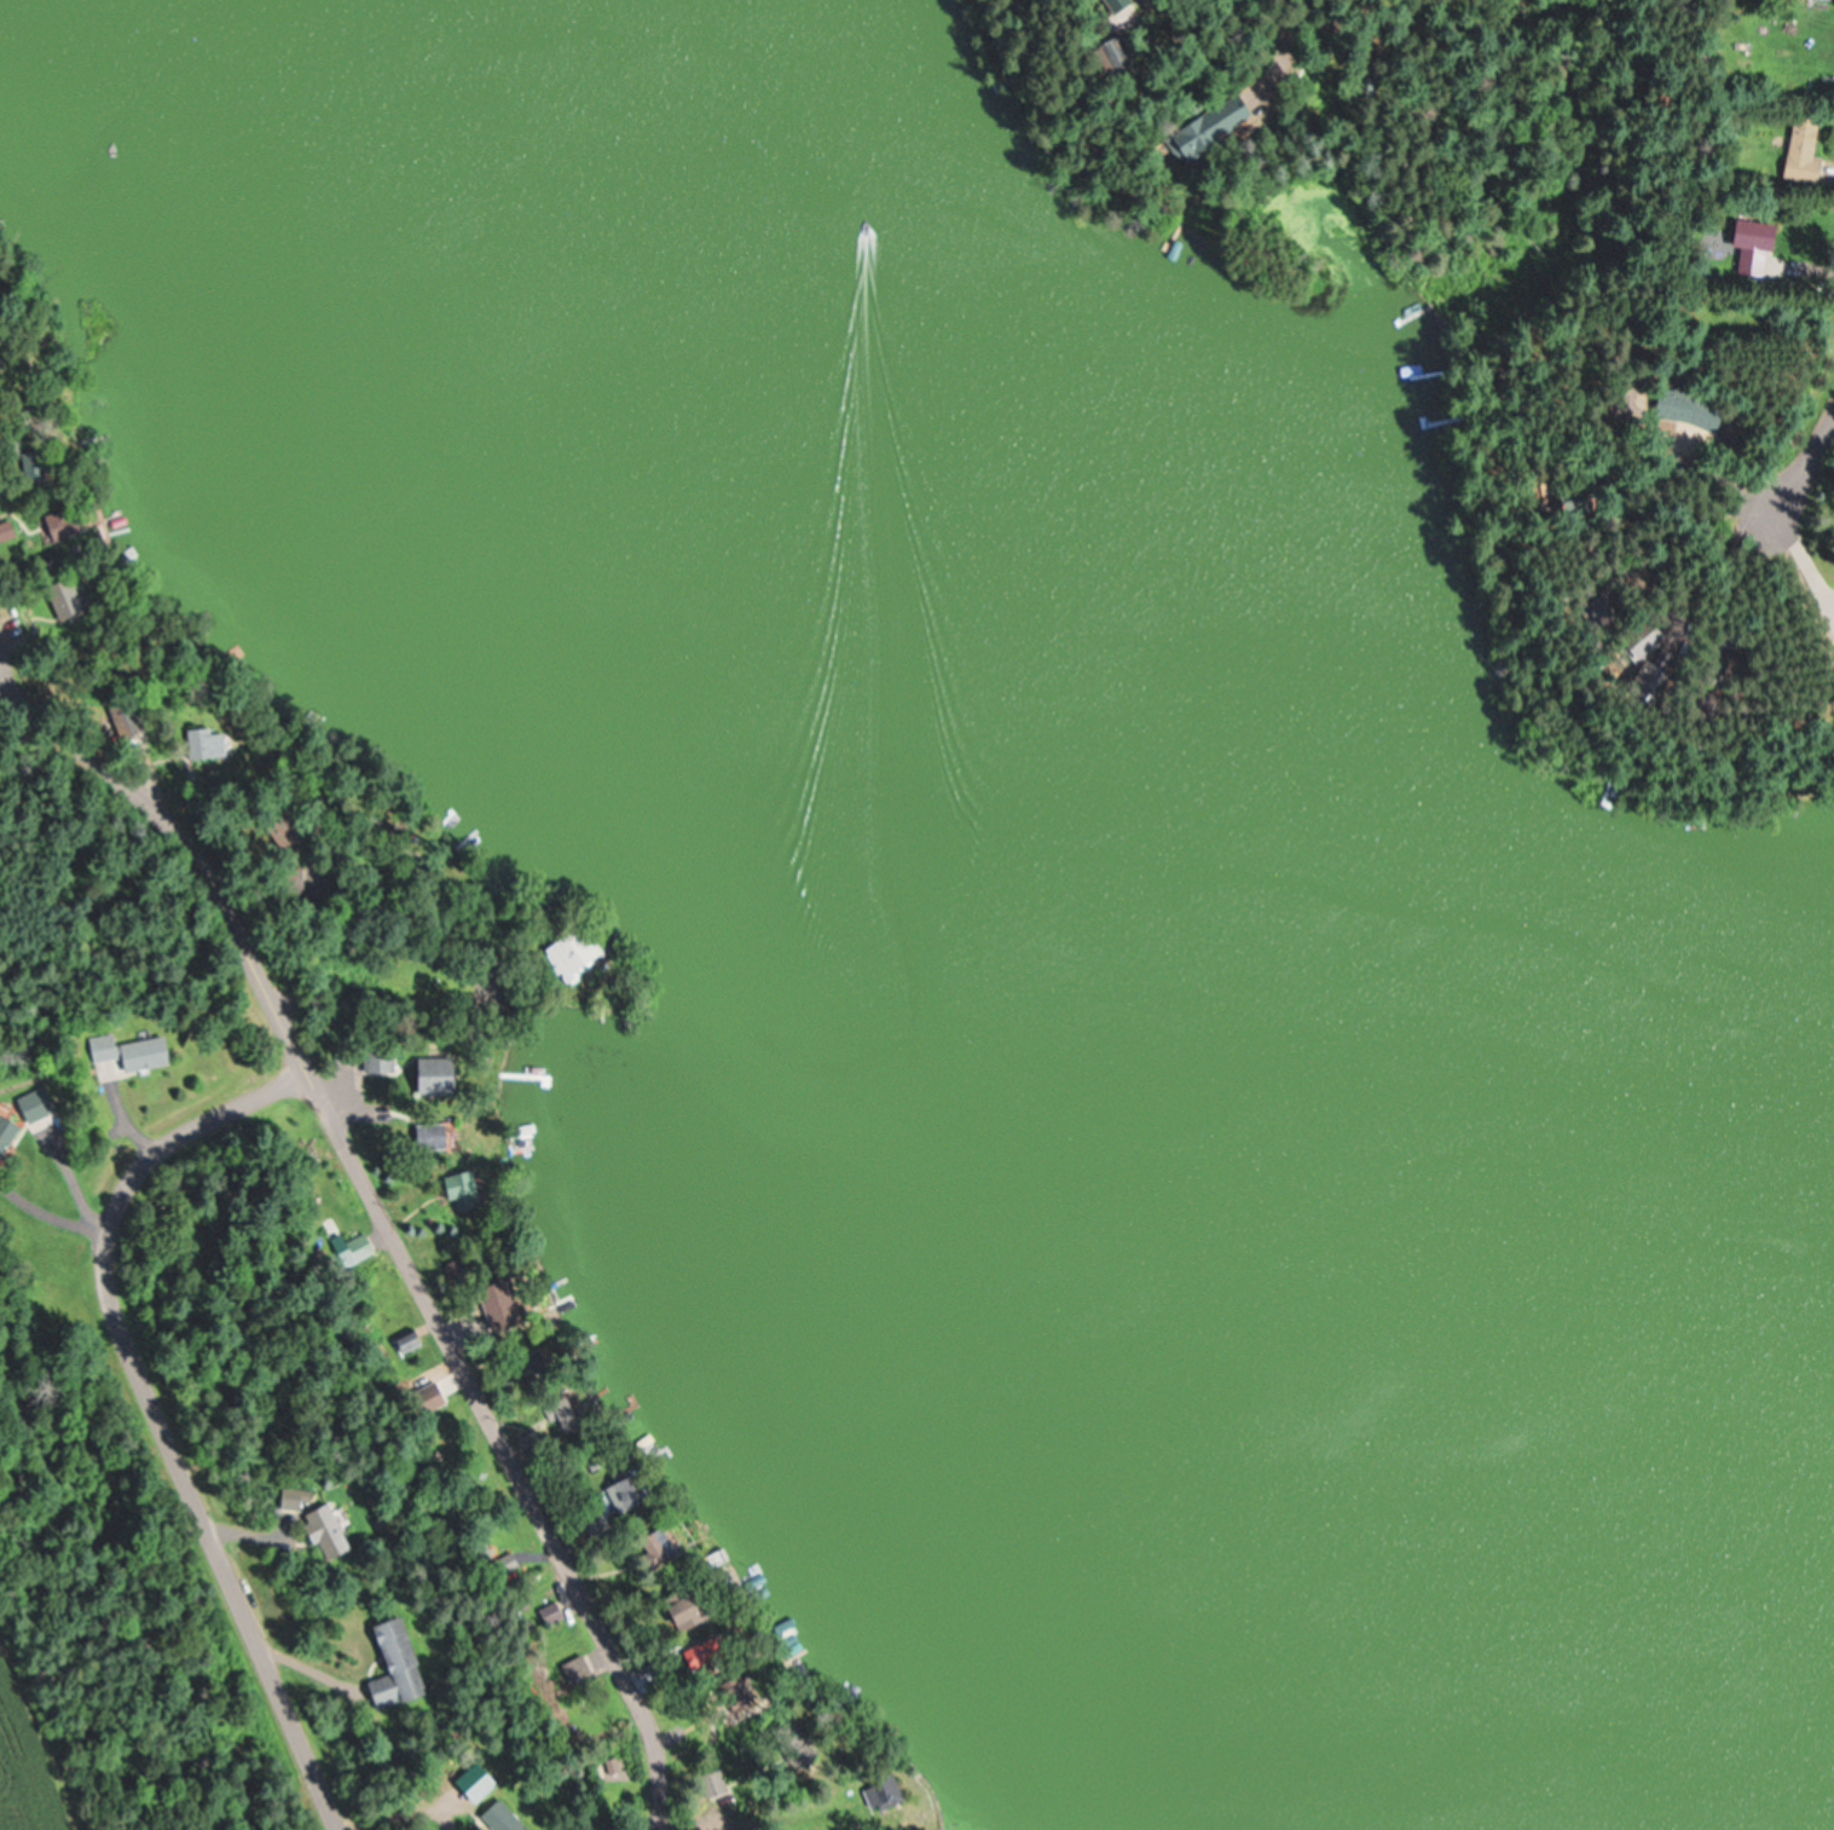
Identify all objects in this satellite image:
building: (1830, 0)
building: (1196, 128)
building: (1799, 148)
road: (2, 232)
building: (1746, 246)
building: (1678, 405)
road: (1810, 460)
road: (1, 666)
road: (1, 671)
building: (282, 879)
building: (151, 1051)
building: (40, 1104)
building: (456, 1190)
road: (376, 1207)
building: (357, 1247)
building: (403, 1340)
road: (152, 1413)
building: (623, 1493)
building: (284, 1497)
building: (322, 1530)
building: (653, 1546)
building: (548, 1612)
building: (387, 1663)
building: (792, 1738)
crop: (23, 1768)
building: (875, 1790)
building: (499, 1817)

